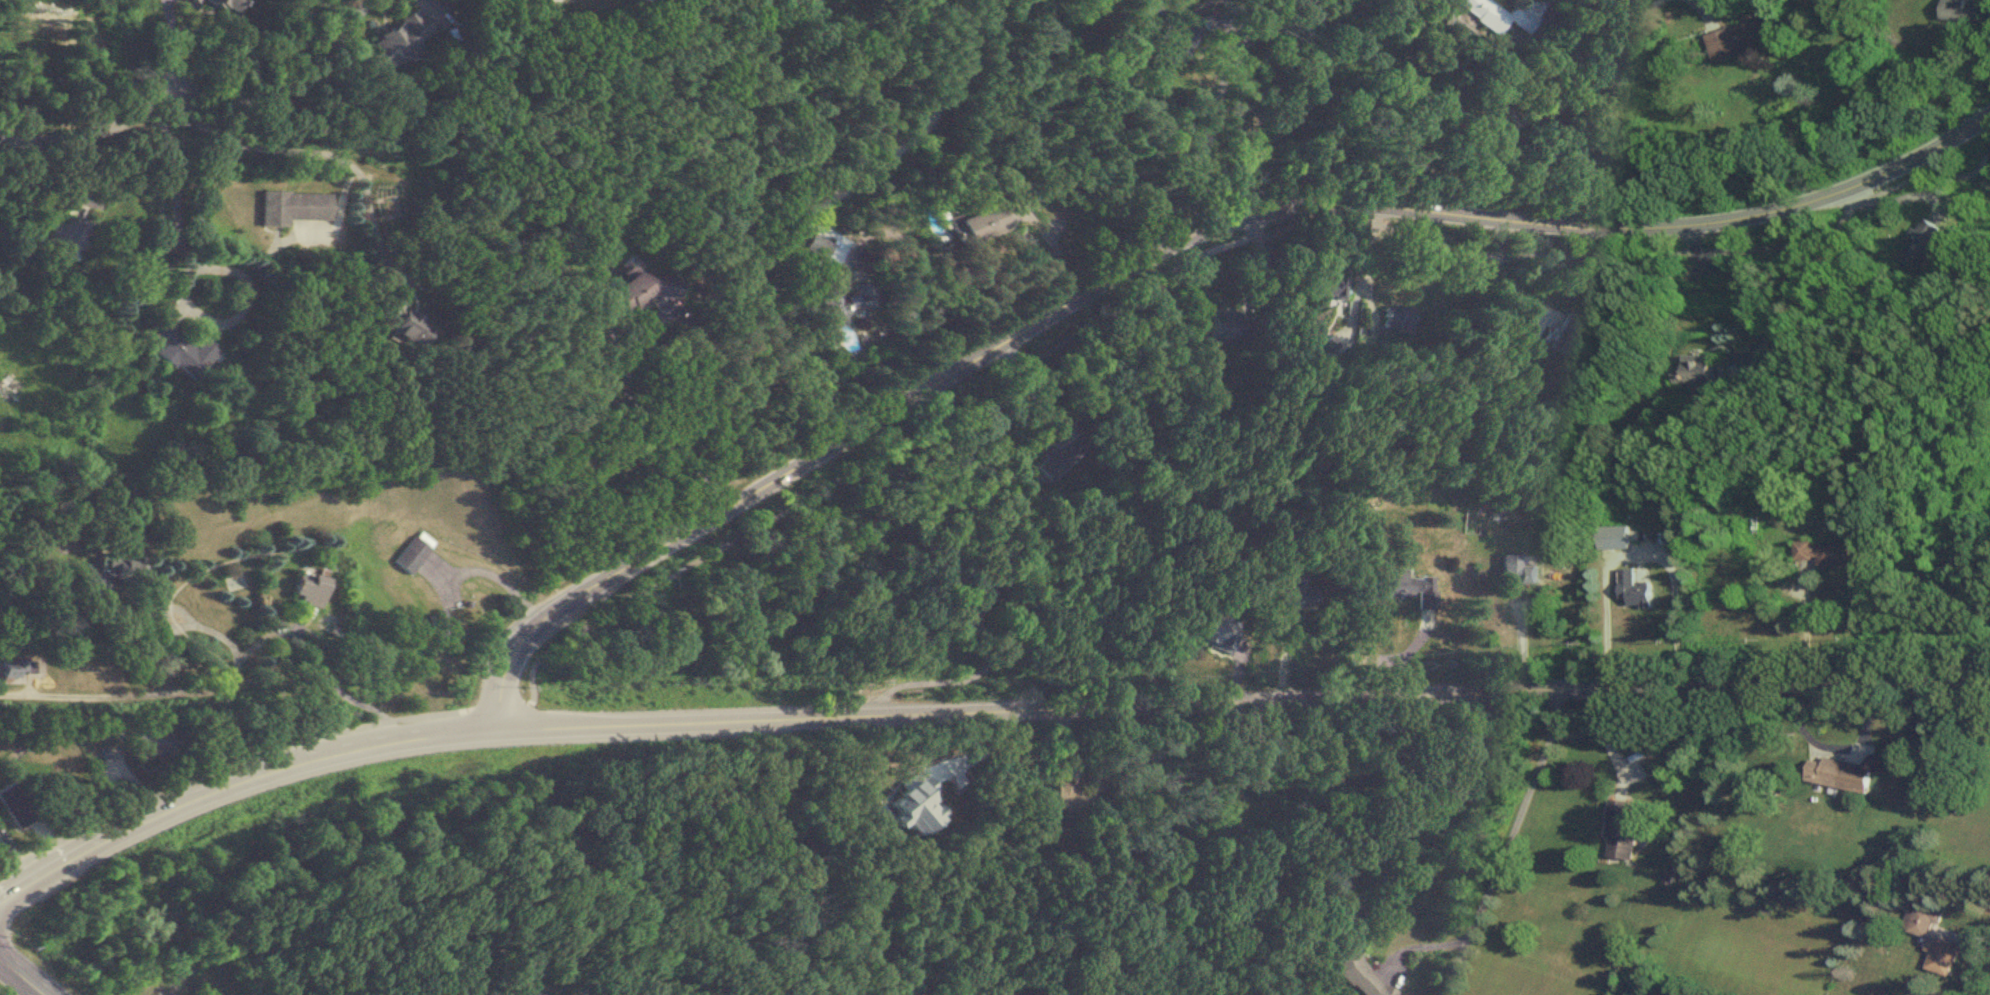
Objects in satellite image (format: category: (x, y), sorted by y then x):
road: (432, 1)
building: (224, 3)
building: (1962, 10)
building: (1498, 15)
building: (1208, 21)
building: (1736, 38)
building: (397, 39)
building: (1177, 40)
road: (171, 43)
road: (288, 89)
road: (1514, 94)
road: (1253, 103)
road: (1987, 121)
road: (90, 129)
road: (1204, 143)
road: (313, 148)
road: (1291, 172)
building: (1043, 188)
building: (293, 206)
road: (812, 212)
building: (985, 221)
road: (1255, 222)
building: (65, 232)
building: (817, 243)
building: (1917, 243)
road: (1228, 244)
road: (1169, 246)
road: (1055, 252)
road: (1633, 259)
road: (923, 275)
road: (1740, 285)
building: (1331, 286)
building: (640, 289)
building: (846, 300)
building: (1395, 319)
building: (407, 320)
building: (1227, 324)
building: (1566, 332)
road: (614, 333)
building: (184, 350)
building: (1696, 370)
road: (1029, 385)
road: (644, 419)
building: (215, 437)
building: (1058, 455)
road: (1637, 547)
building: (421, 551)
building: (1823, 553)
building: (123, 568)
building: (1516, 569)
building: (1412, 585)
building: (319, 588)
building: (1296, 590)
building: (1632, 590)
building: (971, 601)
road: (613, 607)
building: (442, 625)
building: (1219, 631)
road: (1801, 631)
road: (235, 644)
road: (322, 662)
building: (19, 668)
road: (936, 678)
road: (60, 693)
road: (1241, 701)
road: (1604, 737)
building: (1839, 775)
road: (234, 781)
building: (1071, 797)
building: (913, 800)
building: (1621, 831)
road: (1505, 844)
road: (1261, 849)
building: (1919, 921)
building: (1940, 957)
building: (1352, 968)
road: (22, 976)
building: (536, 993)

